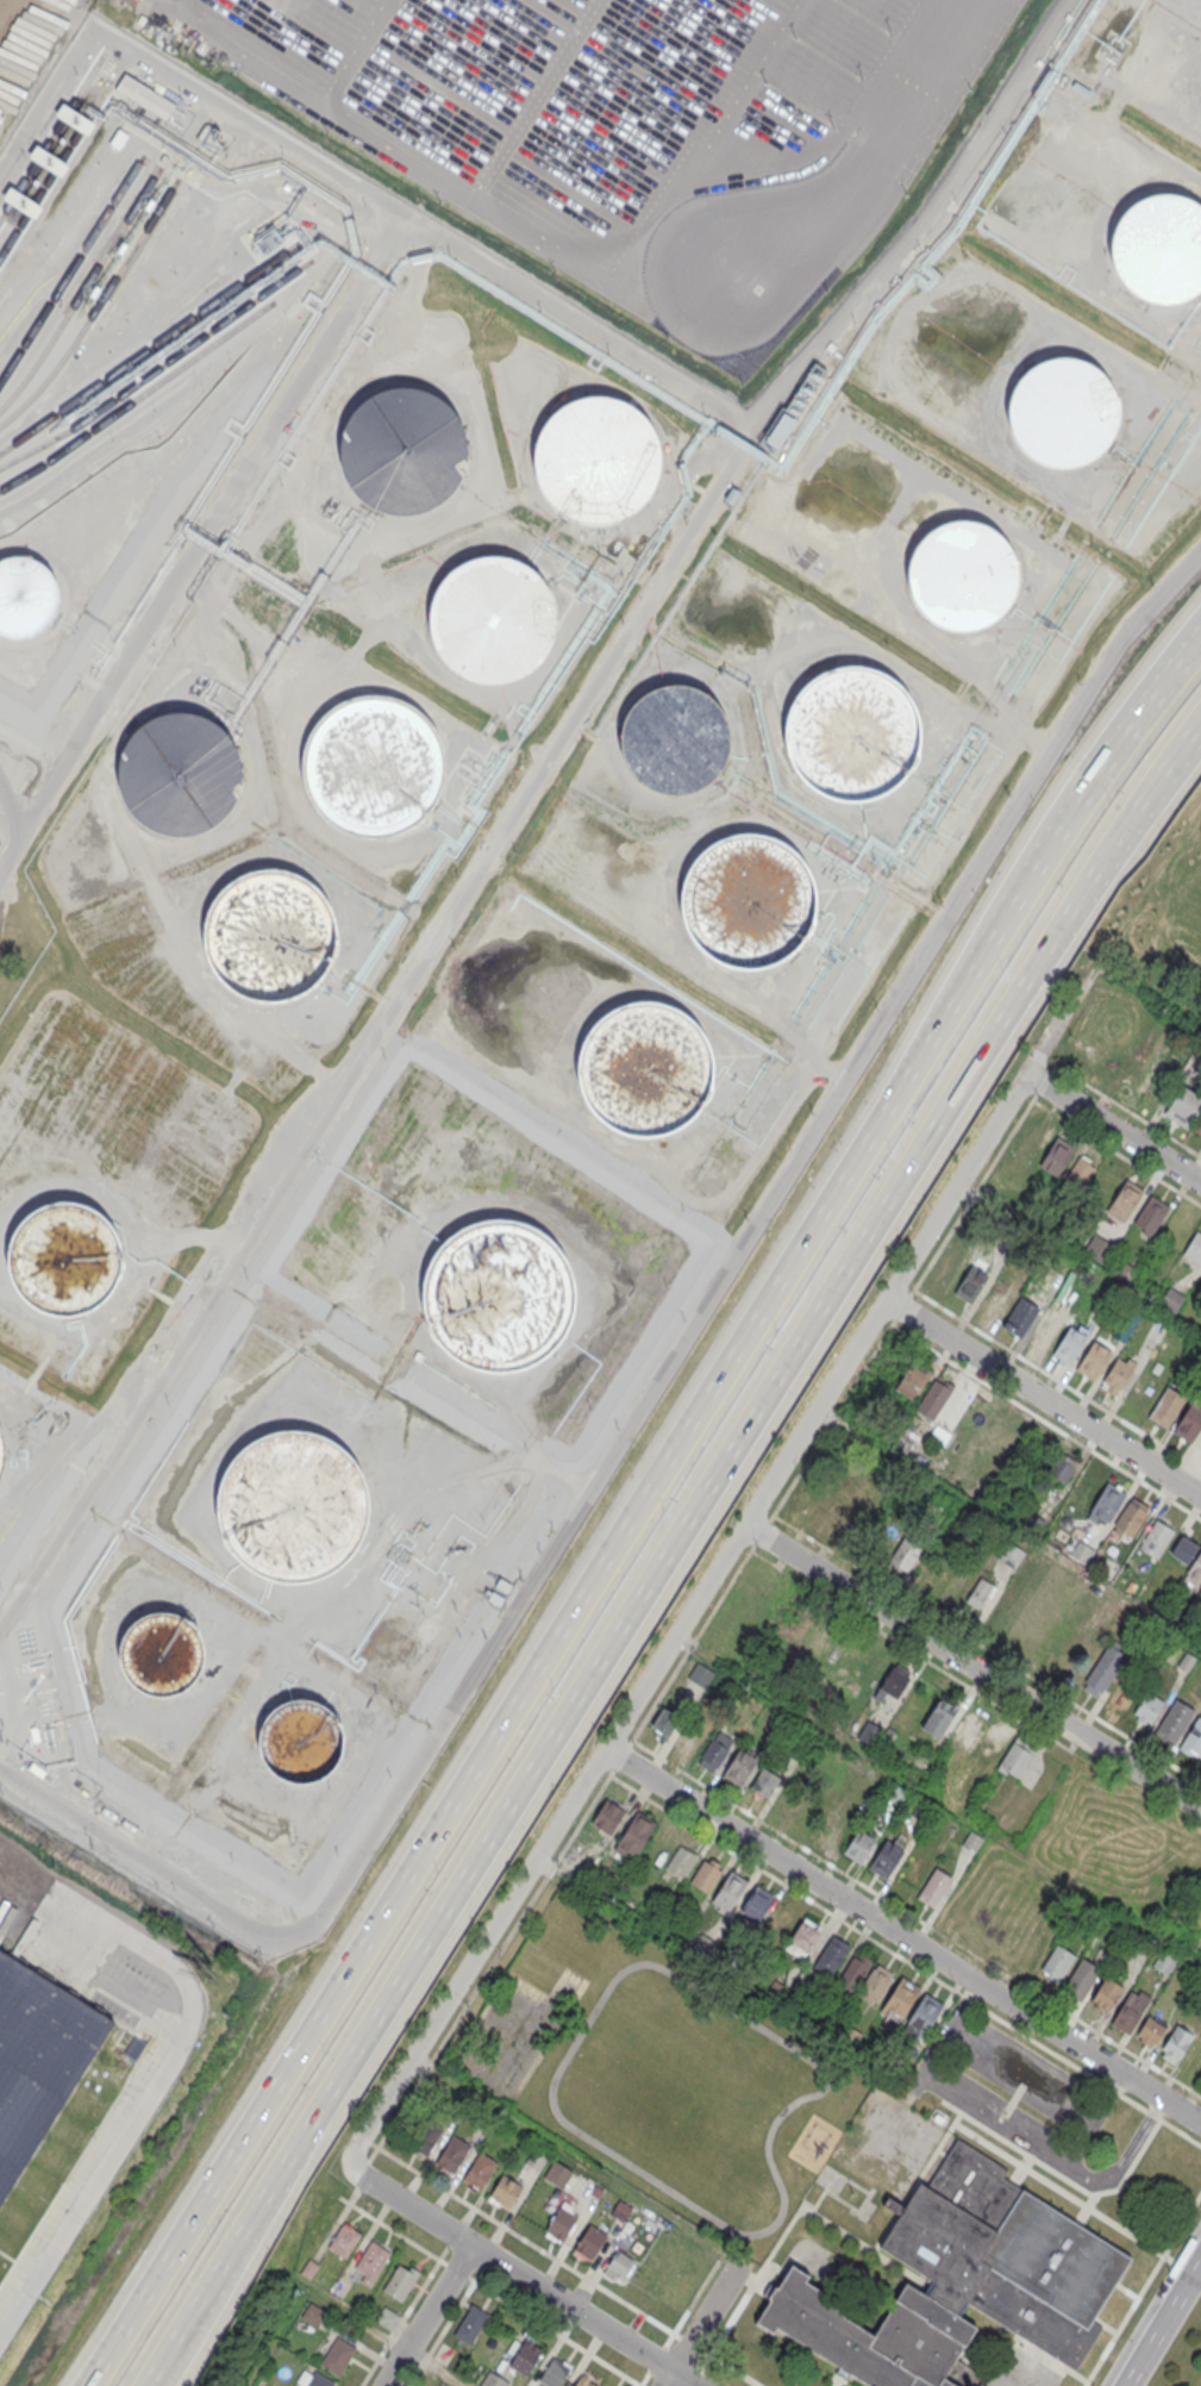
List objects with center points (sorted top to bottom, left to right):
road: (357, 52)
building: (145, 98)
road: (537, 99)
parking lot: (636, 129)
railway: (51, 137)
railway: (51, 175)
road: (349, 179)
road: (534, 233)
building: (1161, 250)
storage tank: (1161, 250)
railway: (81, 289)
railway: (95, 306)
road: (686, 313)
building: (1062, 414)
storage tank: (1062, 414)
building: (404, 452)
storage tank: (404, 452)
building: (594, 462)
storage tank: (594, 462)
road: (204, 543)
building: (962, 579)
storage tank: (962, 579)
building: (26, 598)
storage tank: (26, 598)
building: (490, 623)
storage tank: (490, 623)
road: (1126, 708)
building: (851, 733)
storage tank: (851, 733)
building: (675, 738)
storage tank: (675, 738)
building: (371, 767)
storage tank: (371, 767)
building: (180, 774)
storage tank: (180, 774)
road: (515, 804)
road: (1106, 851)
building: (748, 904)
storage tank: (748, 904)
park: (1164, 929)
building: (271, 937)
storage tank: (271, 937)
building: (644, 1070)
storage tank: (644, 1070)
building: (1182, 1106)
building: (1197, 1123)
road: (1112, 1129)
building: (1056, 1156)
building: (1078, 1173)
building: (1124, 1199)
building: (1151, 1214)
road: (745, 1233)
building: (1097, 1248)
building: (1194, 1248)
building: (64, 1261)
storage tank: (64, 1261)
building: (945, 1268)
building: (1124, 1270)
building: (971, 1283)
building: (500, 1294)
storage tank: (500, 1294)
building: (997, 1297)
building: (1171, 1298)
building: (1021, 1316)
building: (1044, 1328)
building: (1068, 1344)
building: (1094, 1360)
building: (1118, 1375)
building: (912, 1381)
road: (851, 1389)
road: (1043, 1397)
building: (932, 1399)
building: (1168, 1405)
building: (1189, 1423)
building: (1200, 1444)
building: (1, 1461)
building: (1059, 1467)
building: (1106, 1501)
building: (293, 1503)
storage tank: (293, 1503)
building: (832, 1507)
road: (633, 1514)
building: (1131, 1517)
building: (1030, 1522)
building: (1156, 1539)
building: (1183, 1549)
building: (1080, 1553)
building: (902, 1555)
building: (1011, 1555)
building: (1196, 1567)
building: (977, 1592)
building: (1106, 1613)
road: (684, 1617)
building: (1197, 1630)
building: (162, 1654)
storage tank: (162, 1654)
building: (1187, 1661)
building: (1106, 1664)
road: (971, 1667)
building: (893, 1682)
road: (587, 1688)
building: (1121, 1694)
building: (1149, 1707)
building: (938, 1717)
building: (664, 1719)
building: (1174, 1722)
building: (967, 1728)
building: (868, 1732)
building: (689, 1737)
building: (1191, 1739)
building: (301, 1742)
storage tank: (301, 1742)
building: (990, 1743)
building: (713, 1751)
building: (1015, 1754)
building: (738, 1767)
building: (764, 1782)
building: (899, 1794)
building: (922, 1811)
building: (607, 1813)
building: (838, 1825)
building: (633, 1836)
building: (971, 1841)
building: (858, 1845)
building: (884, 1857)
road: (151, 1860)
building: (681, 1860)
road: (552, 1868)
building: (705, 1875)
road: (545, 1879)
building: (933, 1887)
building: (728, 1888)
building: (757, 1903)
building: (776, 1922)
road: (902, 1936)
building: (802, 1937)
building: (701, 1944)
building: (828, 1956)
building: (1164, 1961)
building: (727, 1962)
building: (1057, 1962)
building: (855, 1973)
building: (1081, 1979)
building: (876, 1981)
building: (775, 1990)
building: (1107, 1993)
building: (900, 1998)
building: (1130, 2010)
building: (922, 2015)
building: (1150, 2030)
building: (849, 2036)
building: (1175, 2043)
building: (38, 2059)
road: (165, 2068)
road: (1013, 2132)
building: (424, 2137)
road: (365, 2138)
road: (587, 2140)
building: (451, 2153)
building: (536, 2157)
building: (480, 2169)
building: (556, 2173)
building: (505, 2190)
building: (595, 2191)
road: (408, 2206)
building: (620, 2210)
building: (561, 2223)
road: (393, 2229)
road: (452, 2238)
building: (343, 2241)
building: (589, 2242)
building: (370, 2261)
road: (564, 2263)
building: (618, 2267)
building: (309, 2268)
road: (456, 2269)
building: (400, 2281)
building: (964, 2282)
road: (571, 2307)
building: (313, 2313)
road: (405, 2313)
road: (426, 2315)
building: (386, 2317)
road: (1161, 2318)
road: (678, 2322)
building: (470, 2324)
road: (699, 2325)
road: (555, 2331)
road: (440, 2332)
road: (412, 2355)
building: (338, 2356)
building: (525, 2357)
building: (552, 2373)
road: (682, 2379)
building: (318, 2380)
building: (493, 2380)
building: (583, 2381)
road: (639, 2385)

